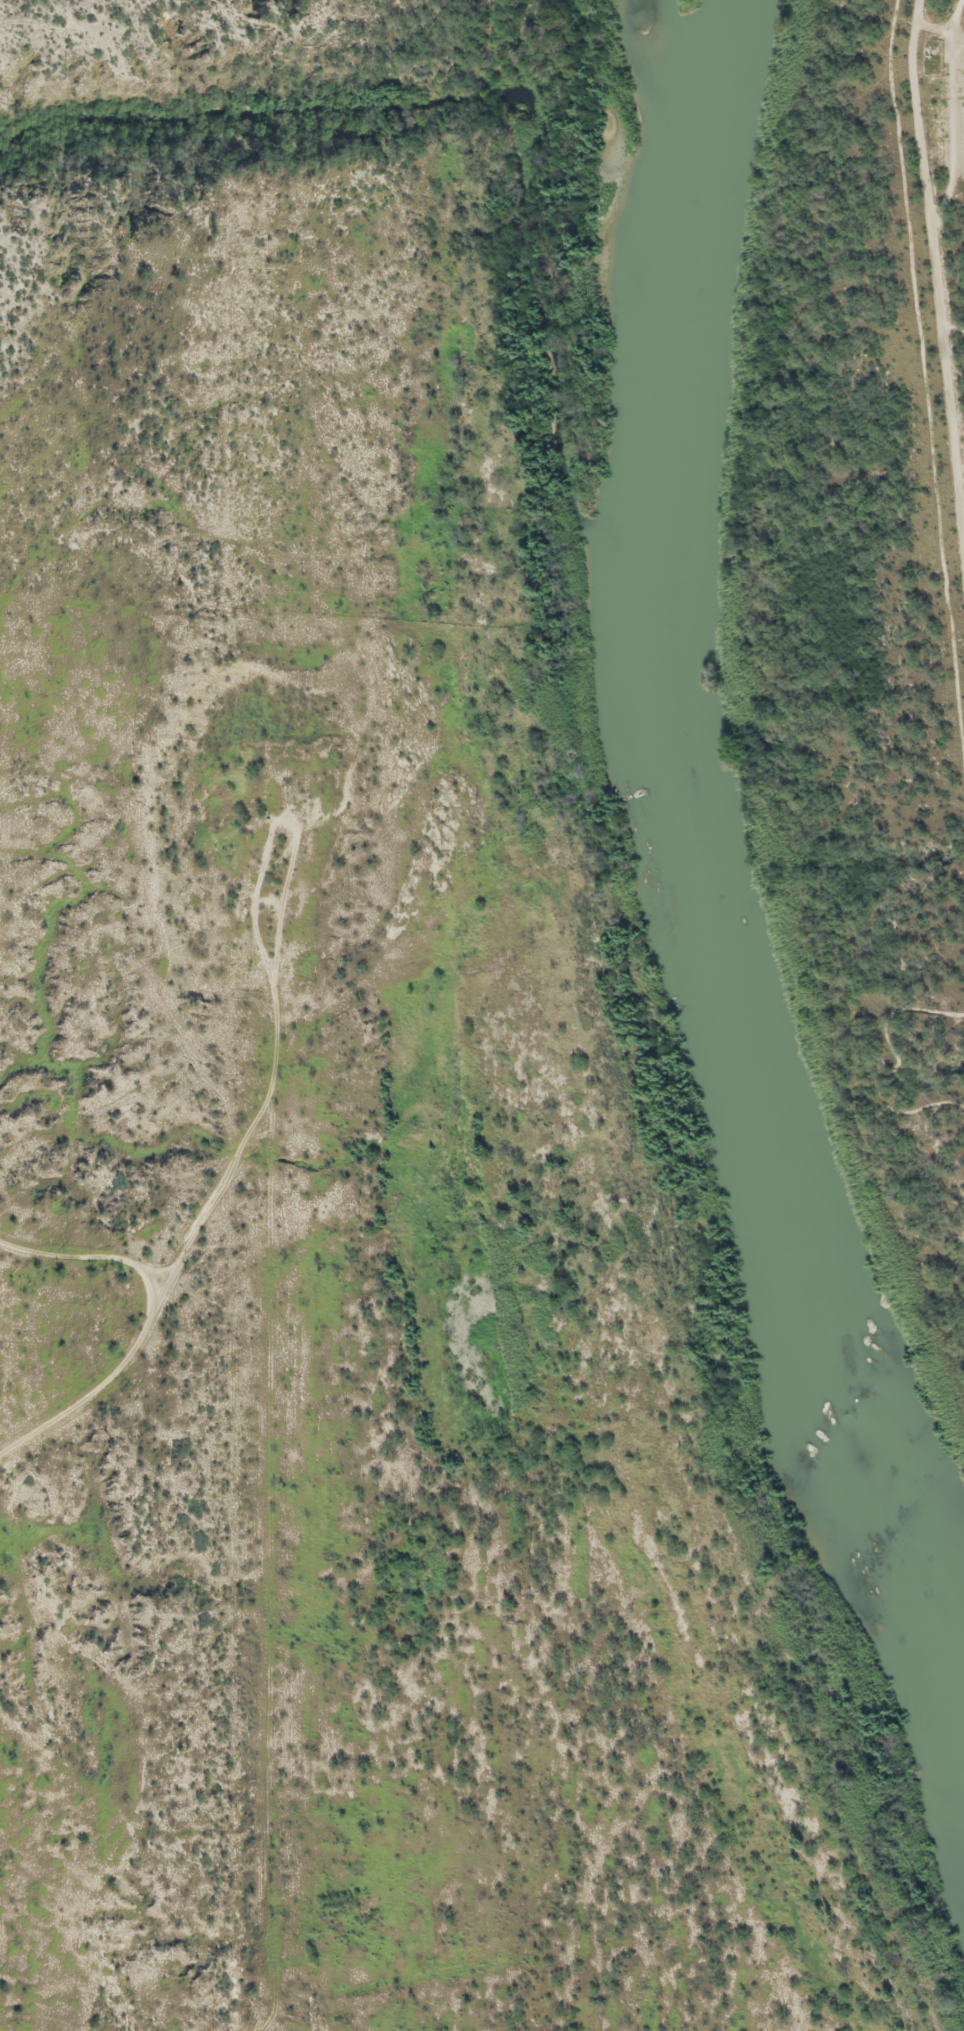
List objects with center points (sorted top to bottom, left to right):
river: (696, 838)
road: (215, 1196)
road: (83, 1257)

